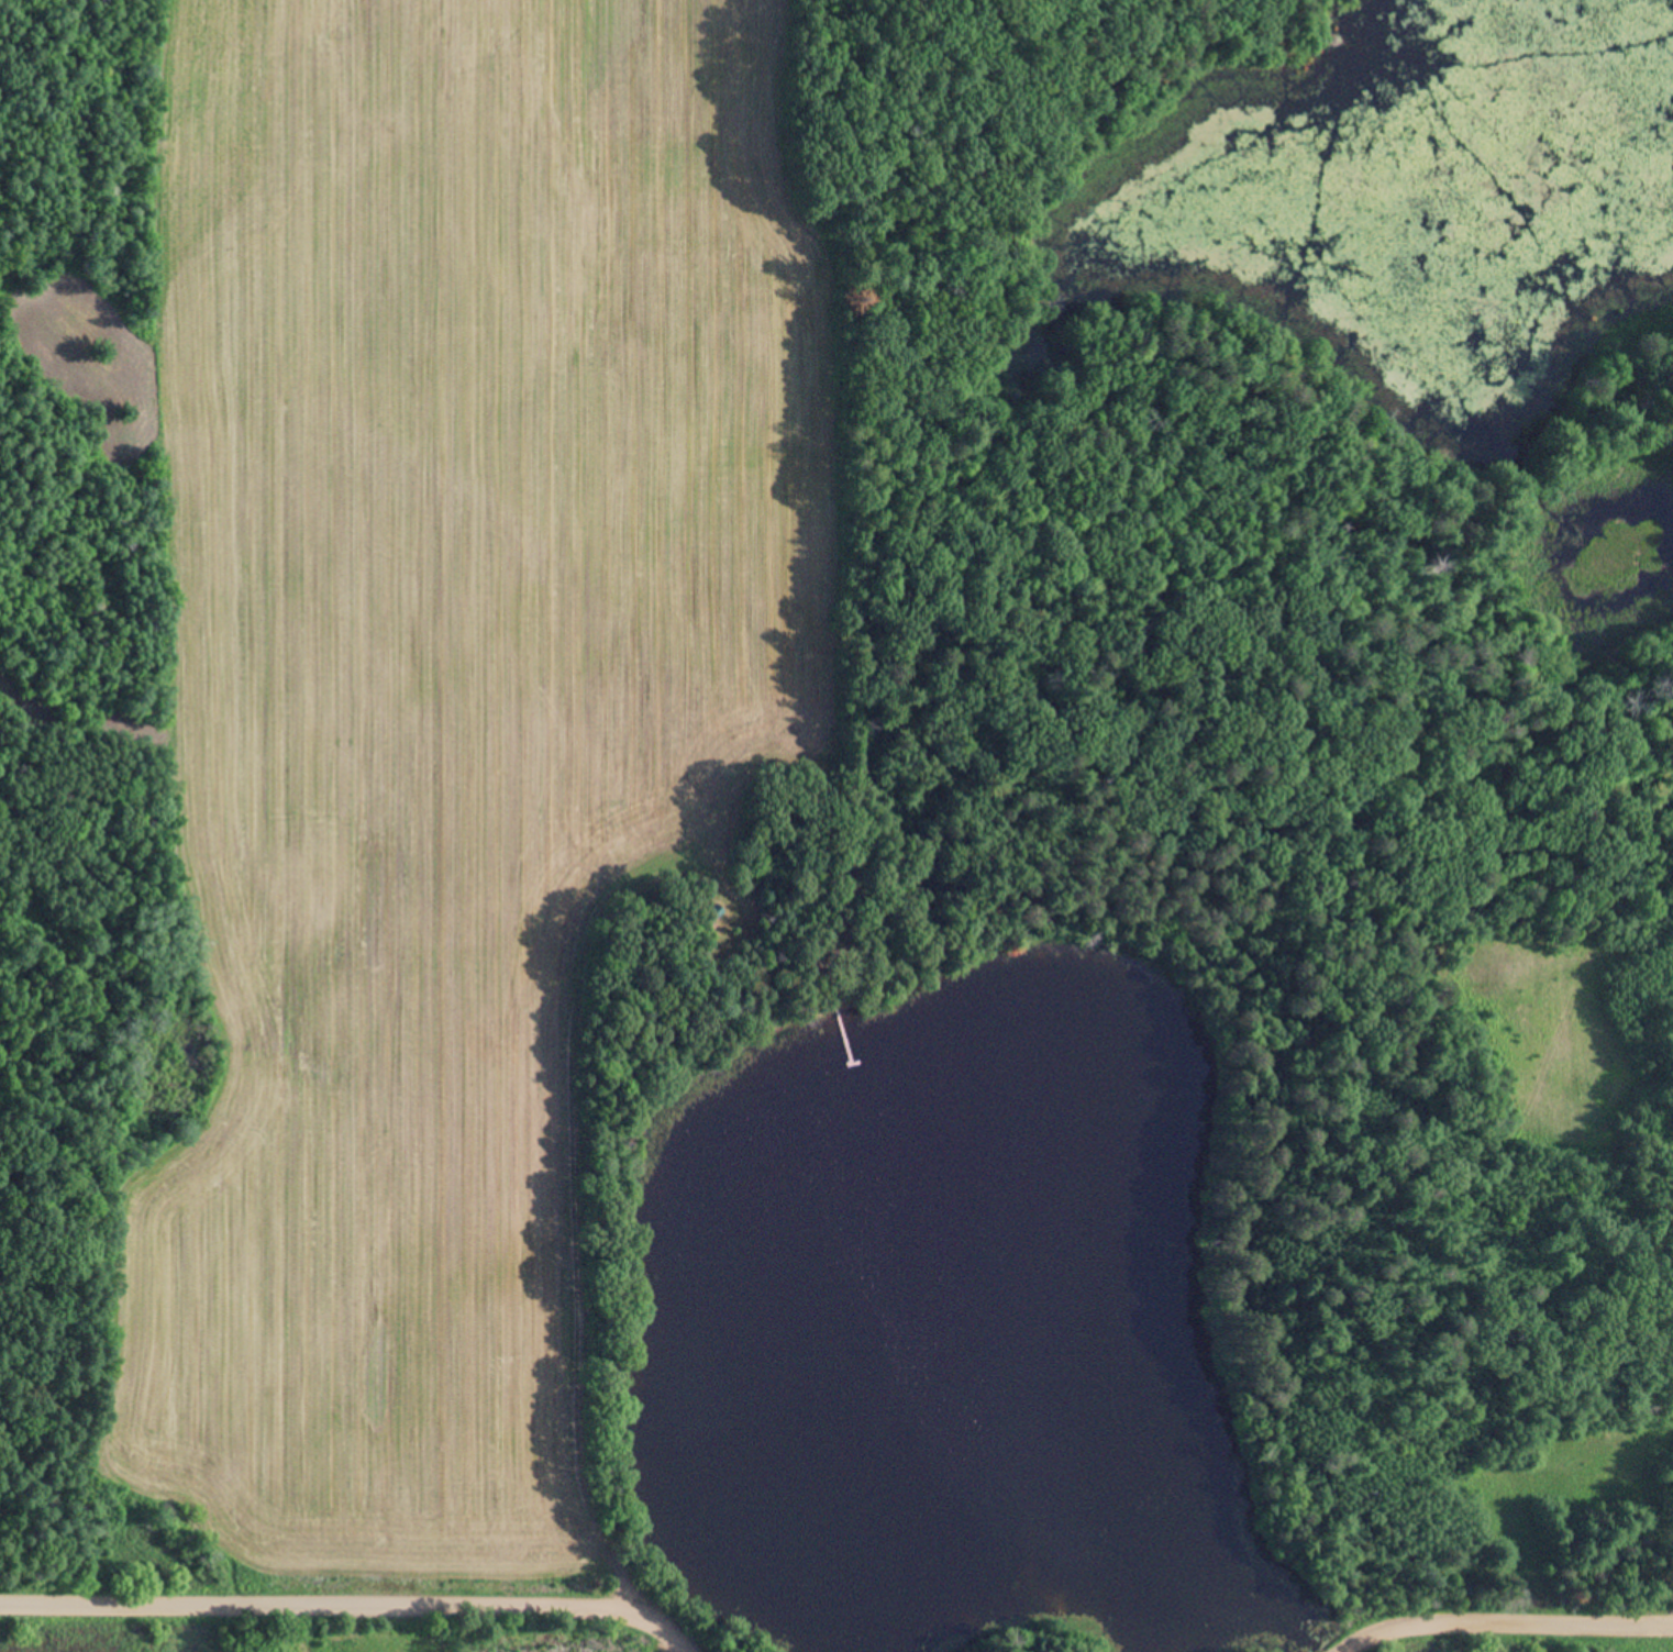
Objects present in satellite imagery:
road: (331, 1607)
road: (1627, 1641)

